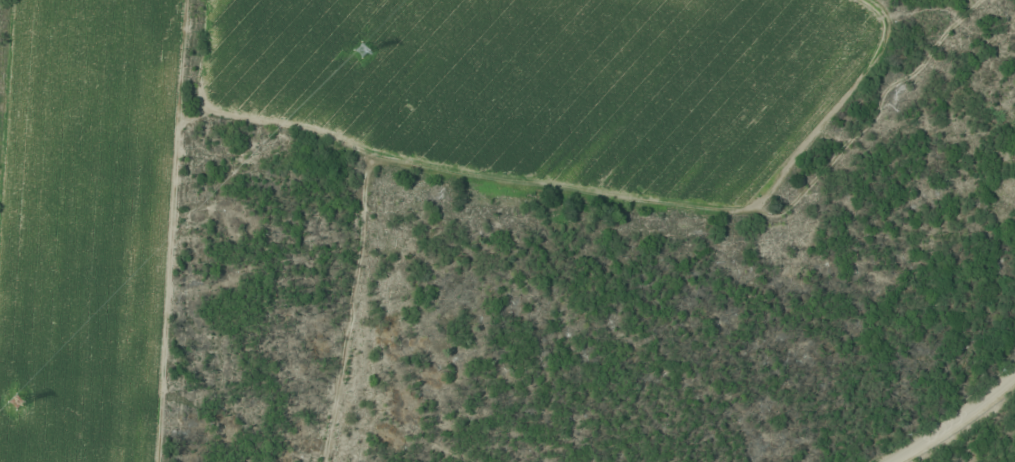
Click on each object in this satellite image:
power tower: (365, 53)
power tower: (20, 403)
road: (954, 419)

